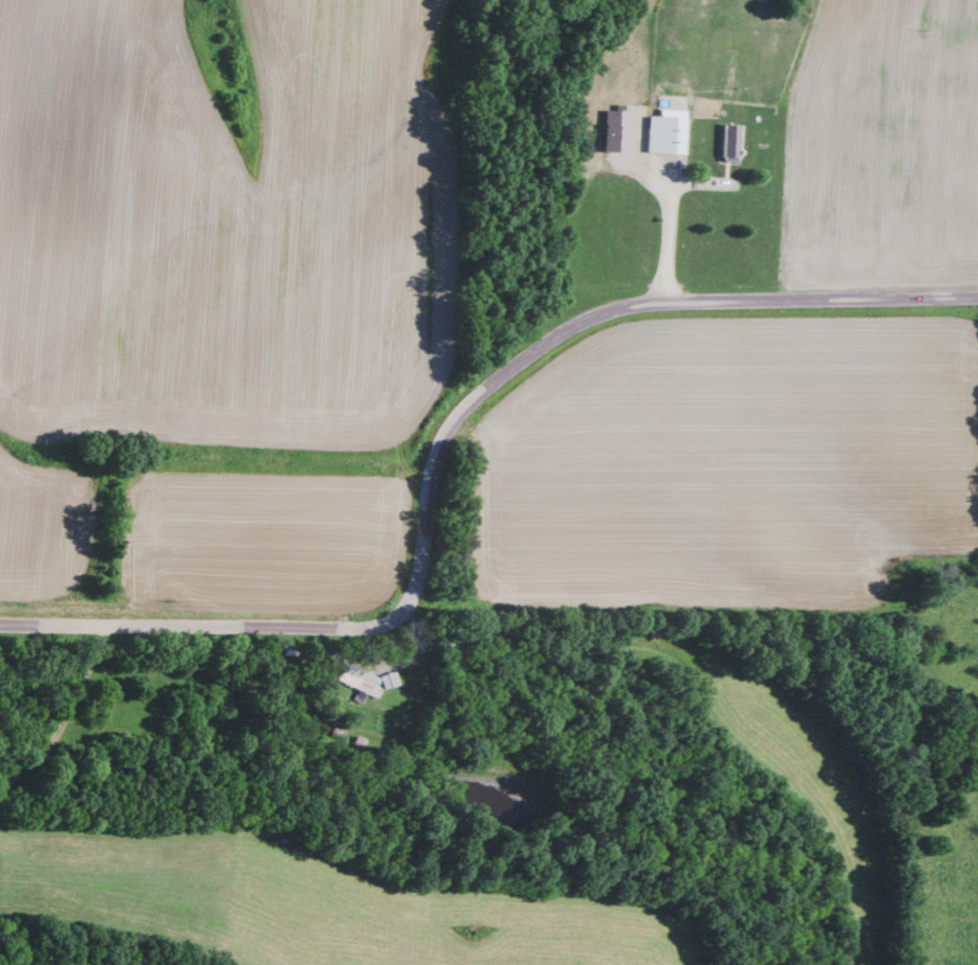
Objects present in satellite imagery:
building: (659, 137)
building: (722, 145)
road: (434, 437)
building: (387, 682)
building: (356, 684)

